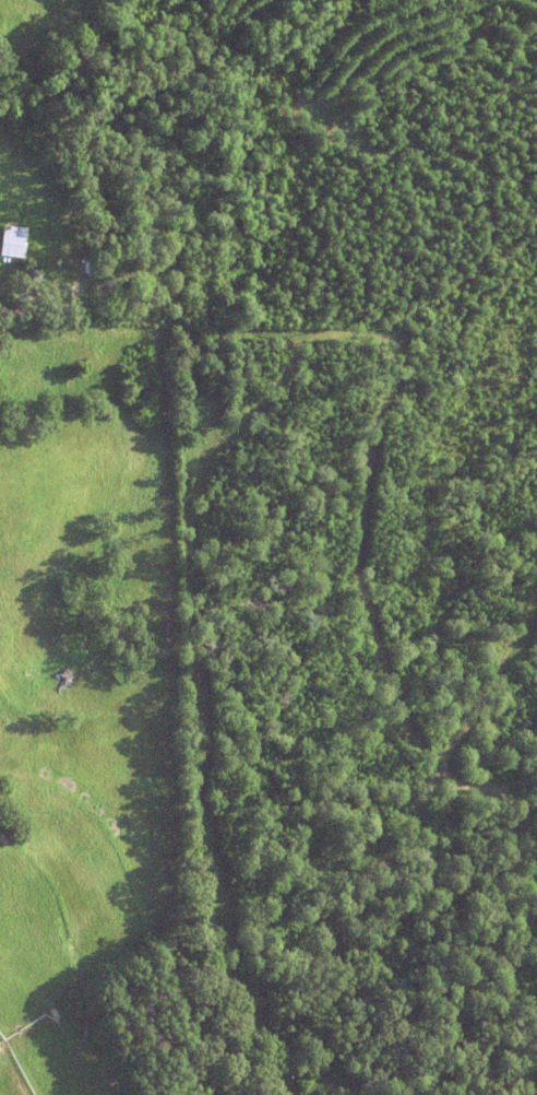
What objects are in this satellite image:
building: (12, 243)

